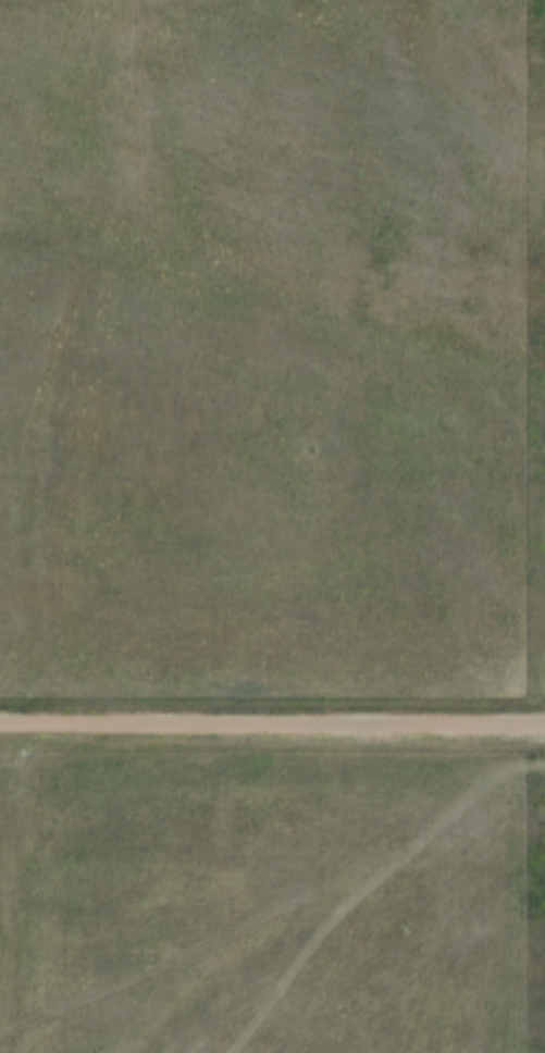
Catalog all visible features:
road: (272, 720)

